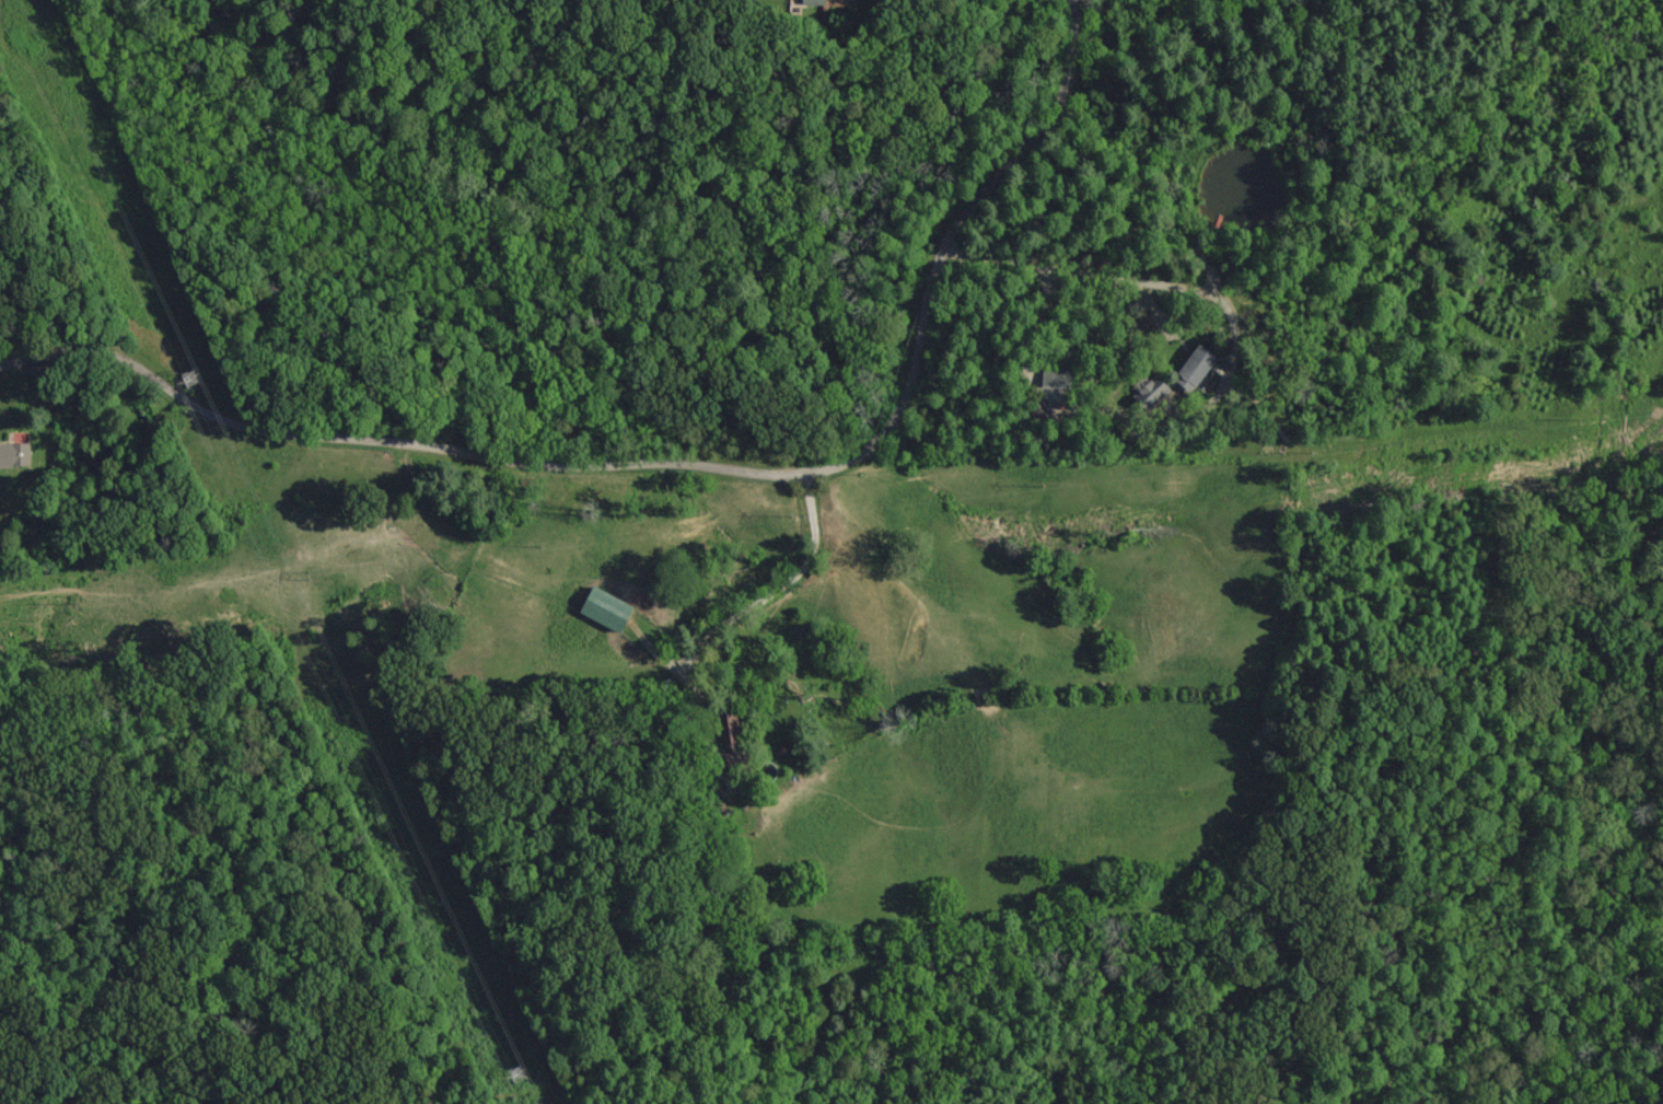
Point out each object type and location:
road: (946, 60)
road: (697, 65)
road: (904, 91)
road: (1053, 102)
road: (103, 353)
building: (1186, 370)
building: (1051, 376)
power tower: (182, 380)
building: (13, 454)
road: (676, 464)
building: (601, 609)
power tower: (501, 1065)

